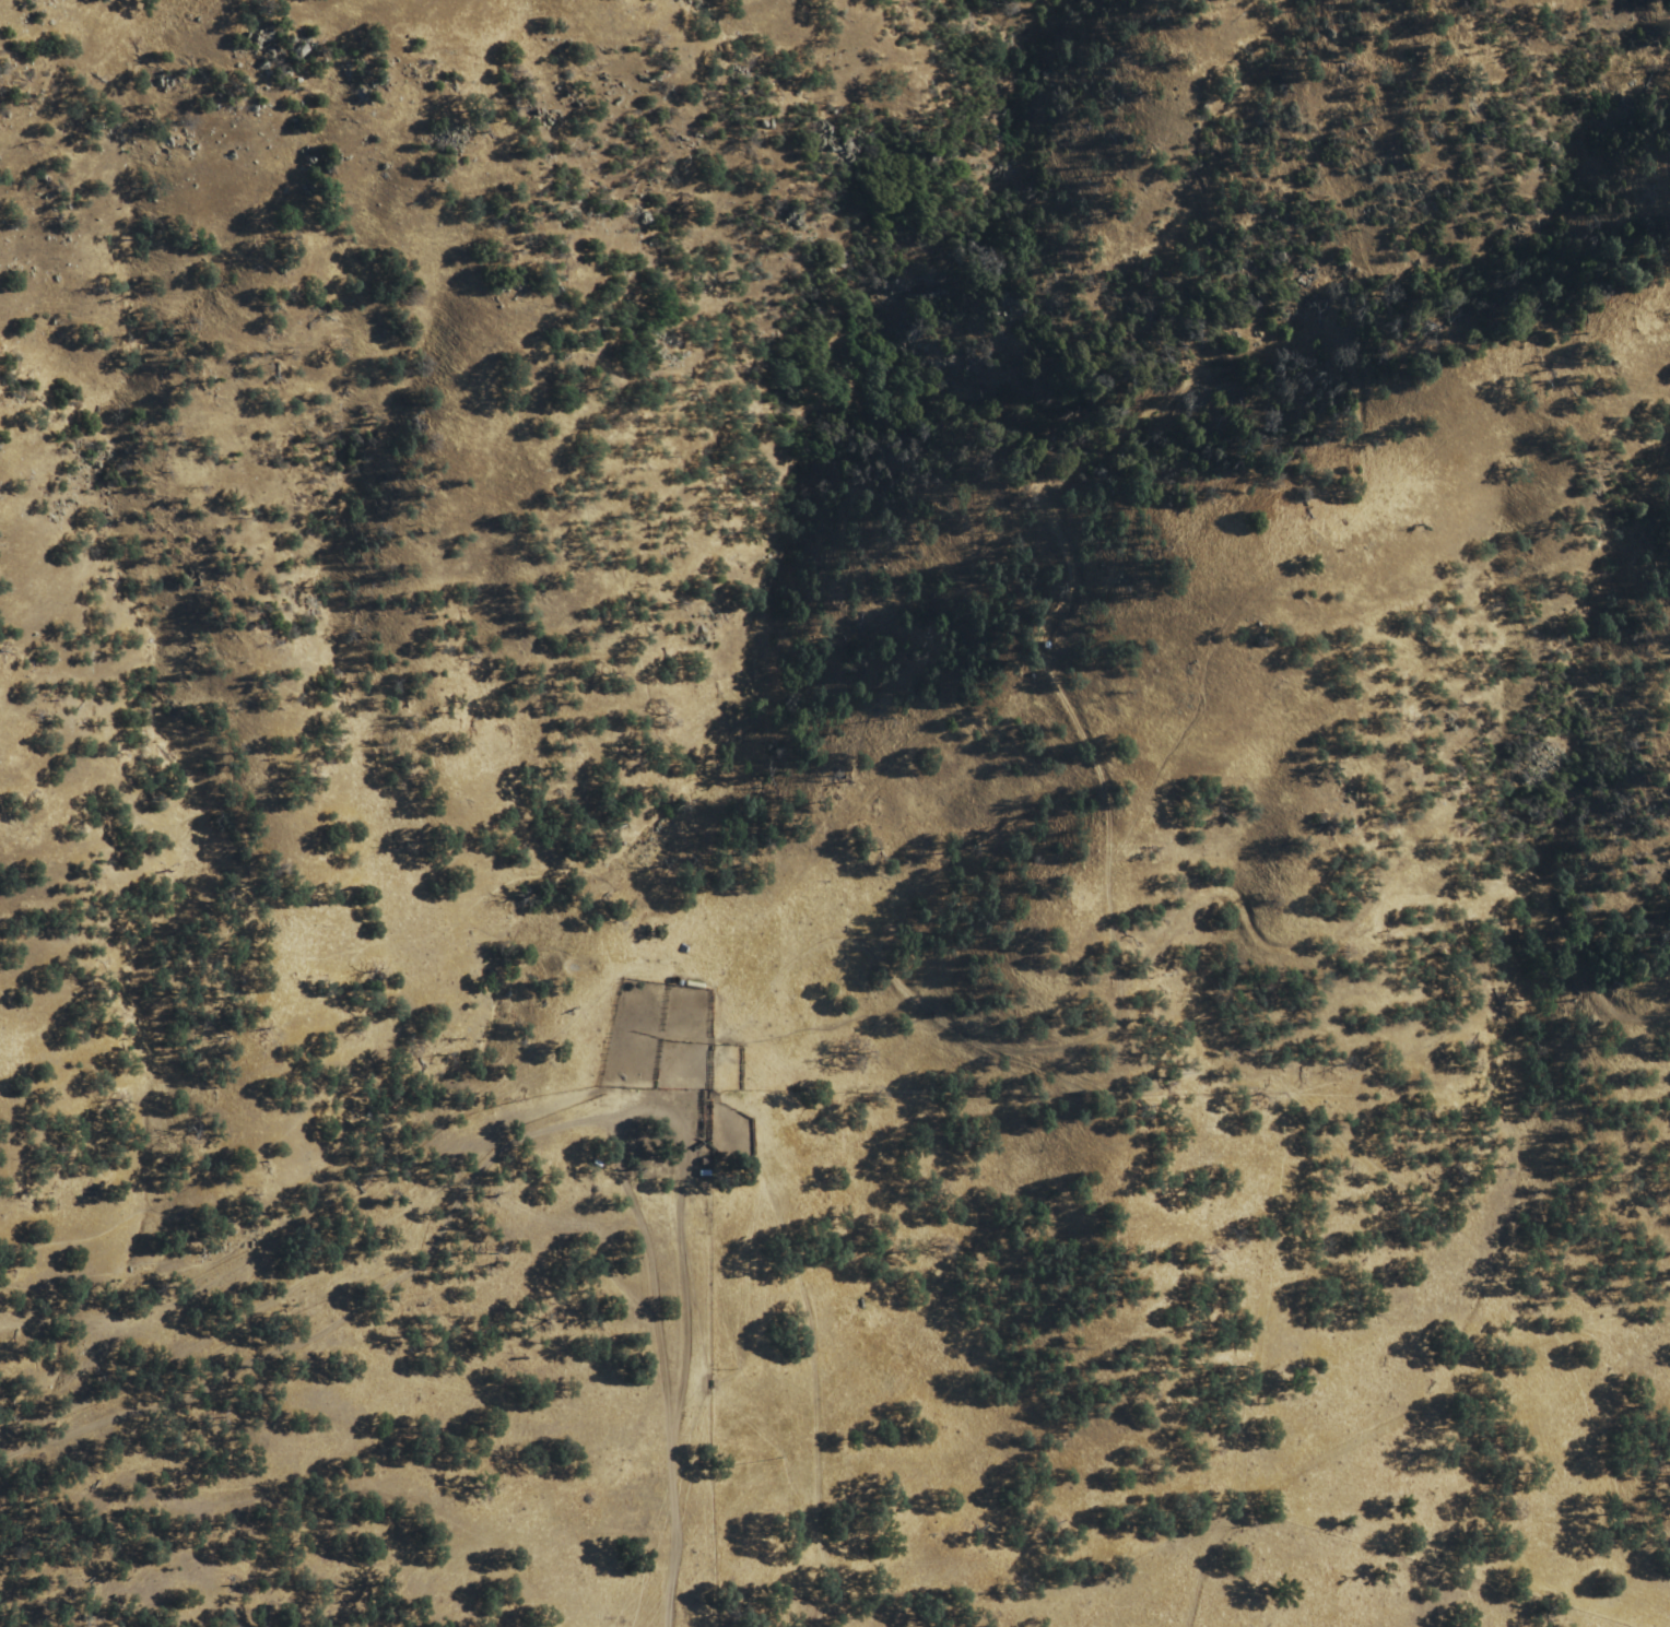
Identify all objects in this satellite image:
road: (697, 1372)

